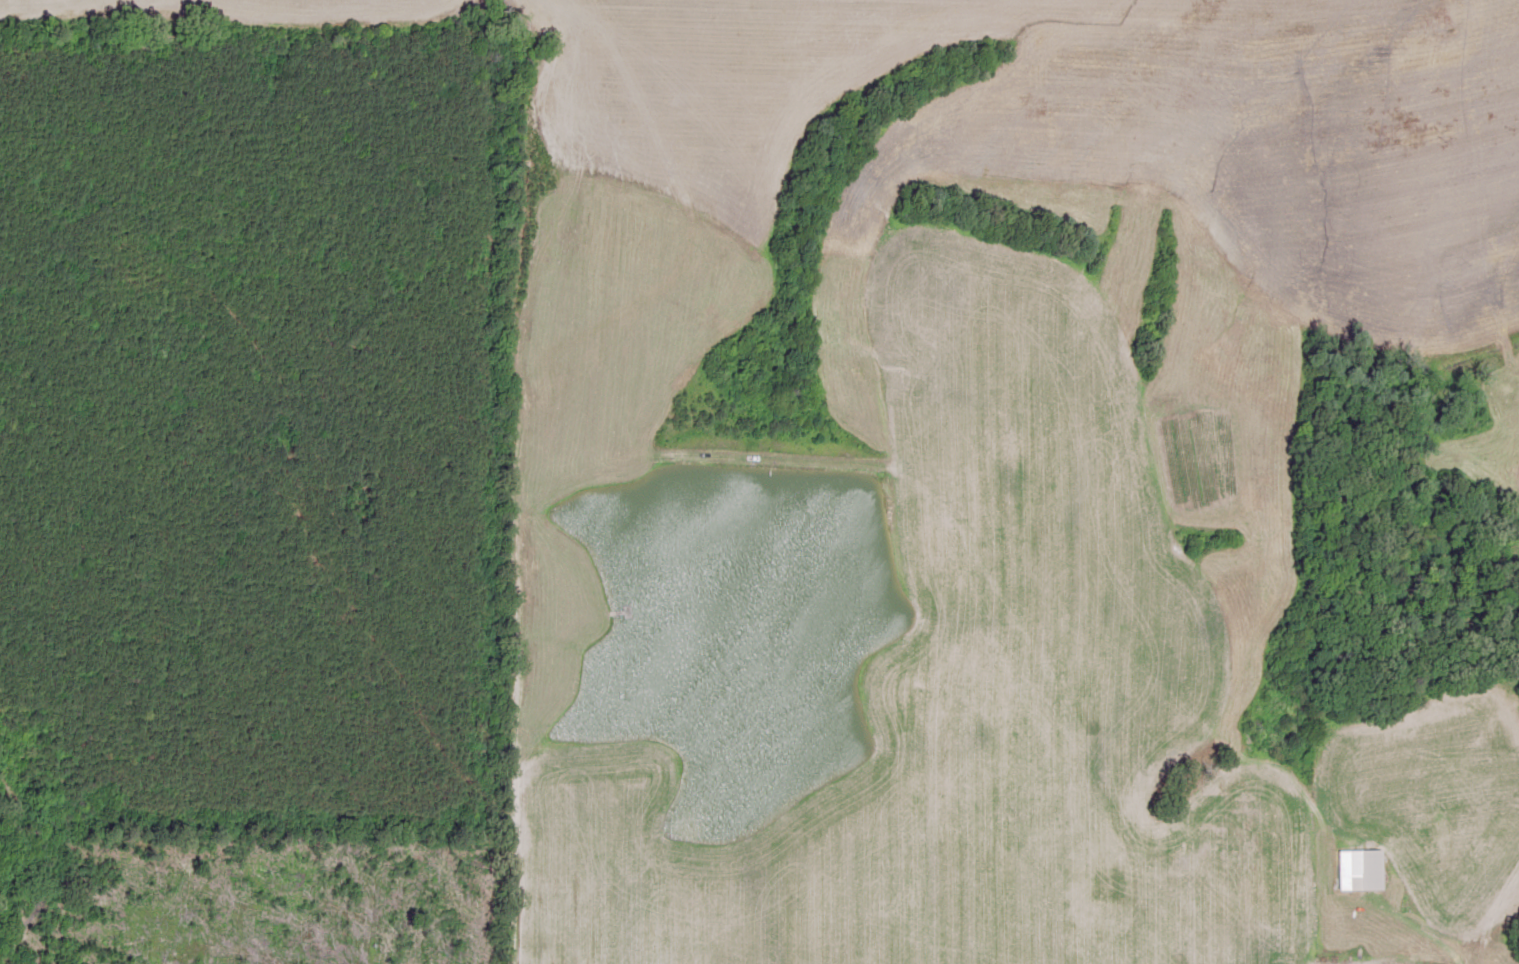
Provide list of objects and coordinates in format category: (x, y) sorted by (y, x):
building: (1356, 871)

